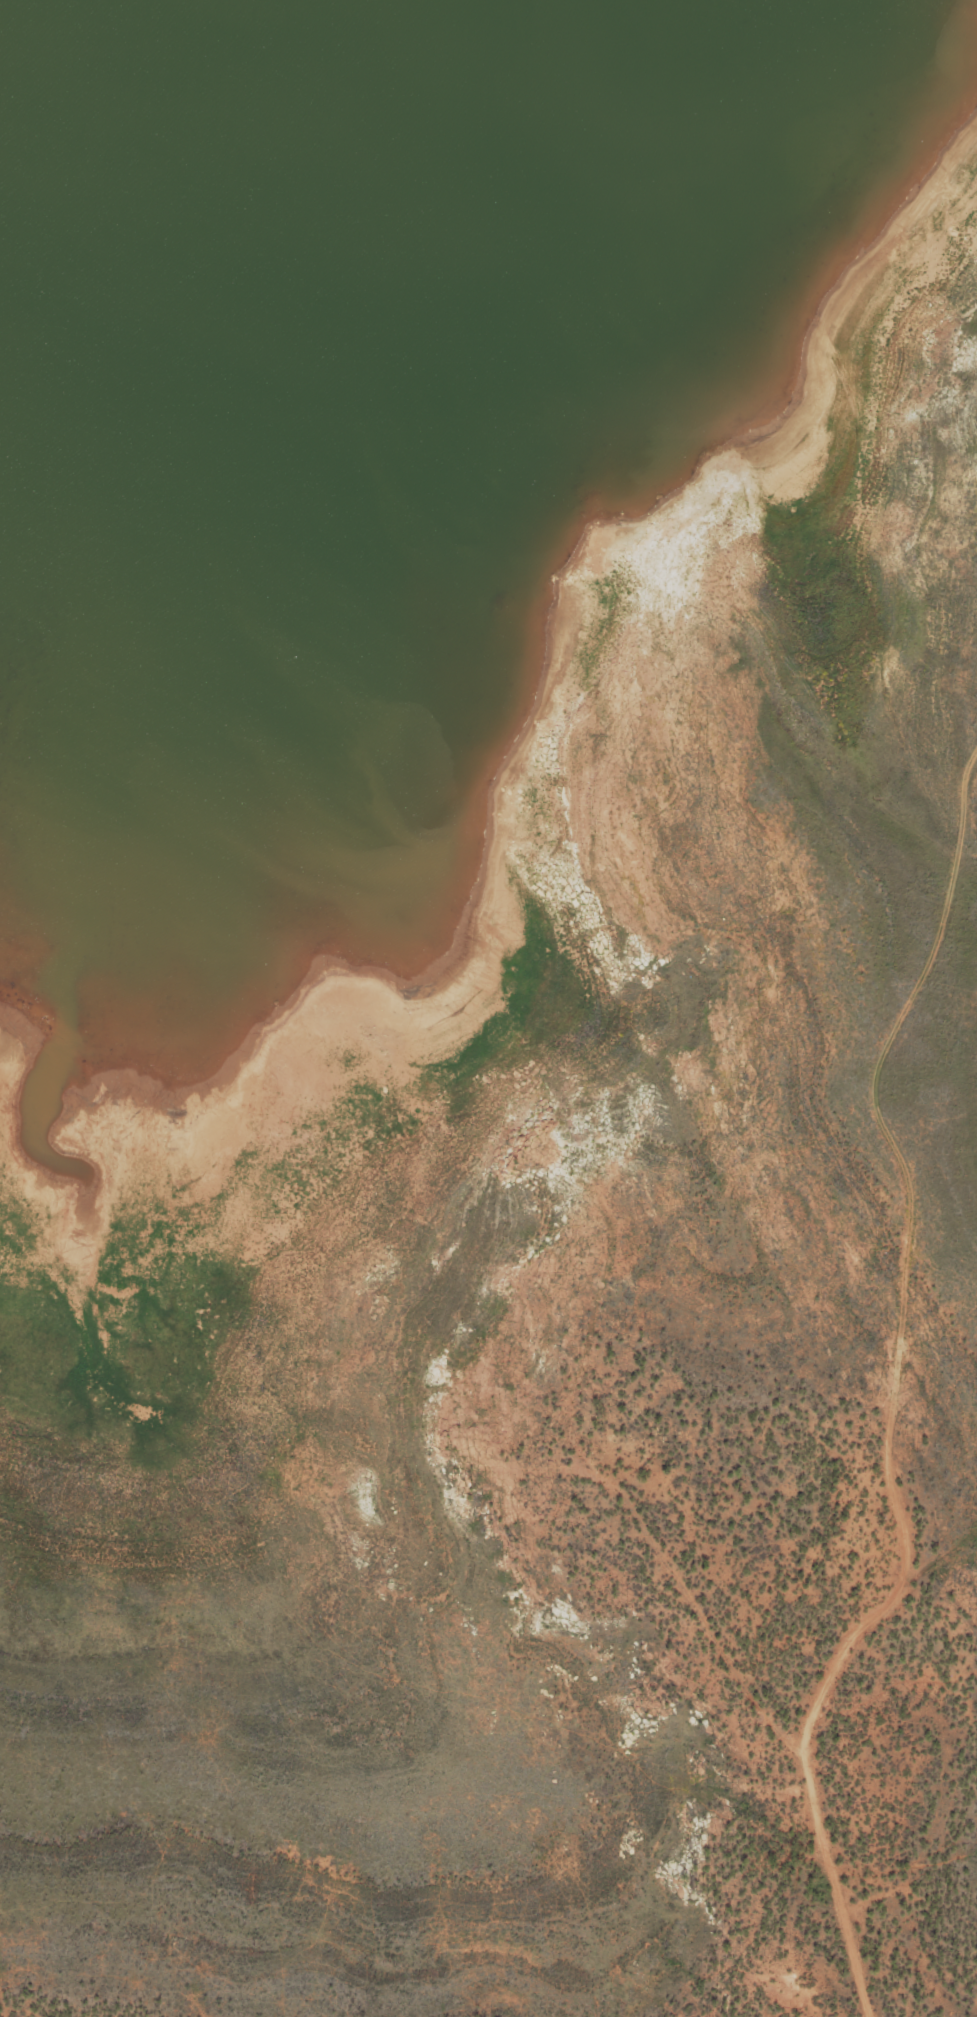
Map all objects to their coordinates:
road: (833, 1988)

